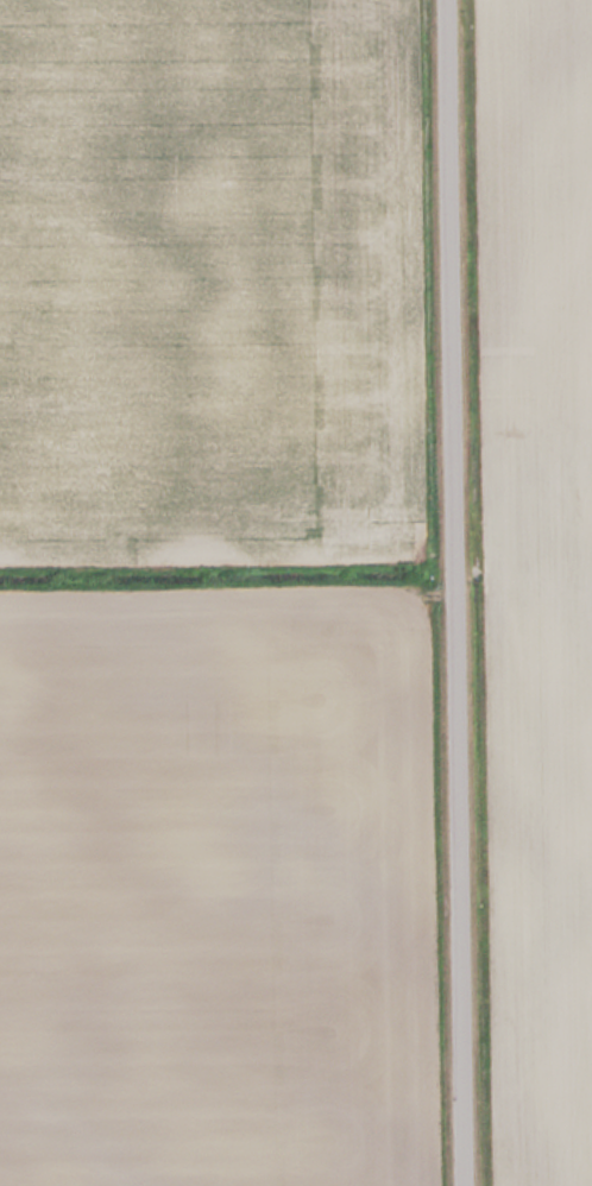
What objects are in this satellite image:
road: (462, 592)

